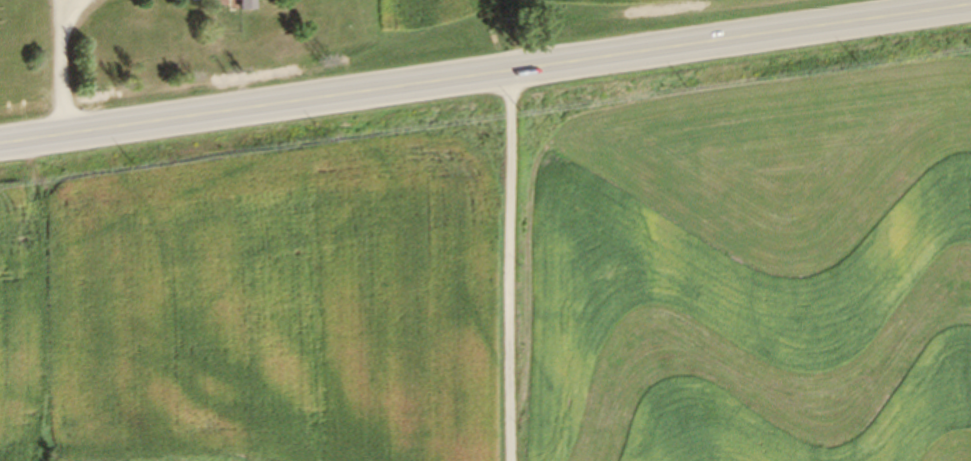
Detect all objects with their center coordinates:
building: (244, 4)
road: (485, 72)
road: (513, 264)

